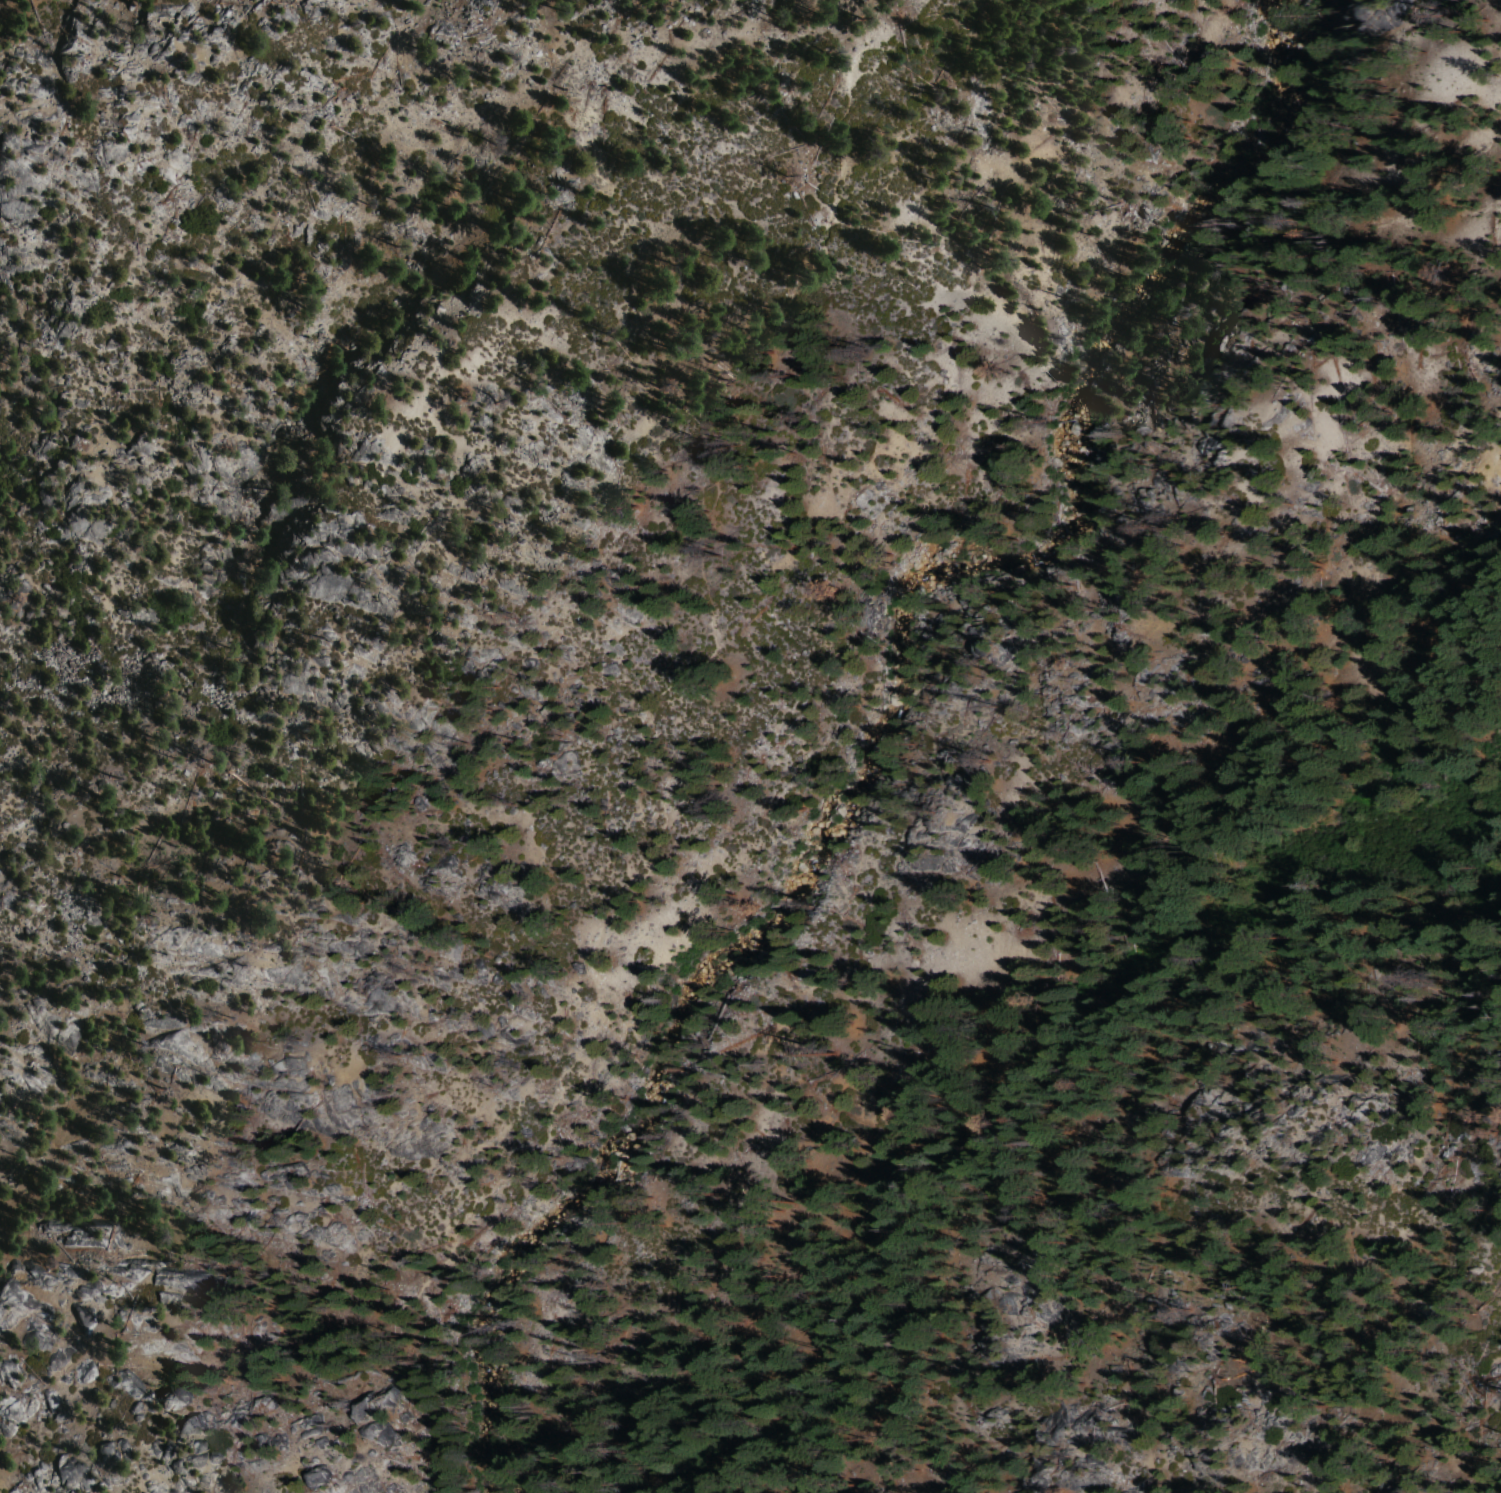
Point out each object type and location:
road: (658, 771)

